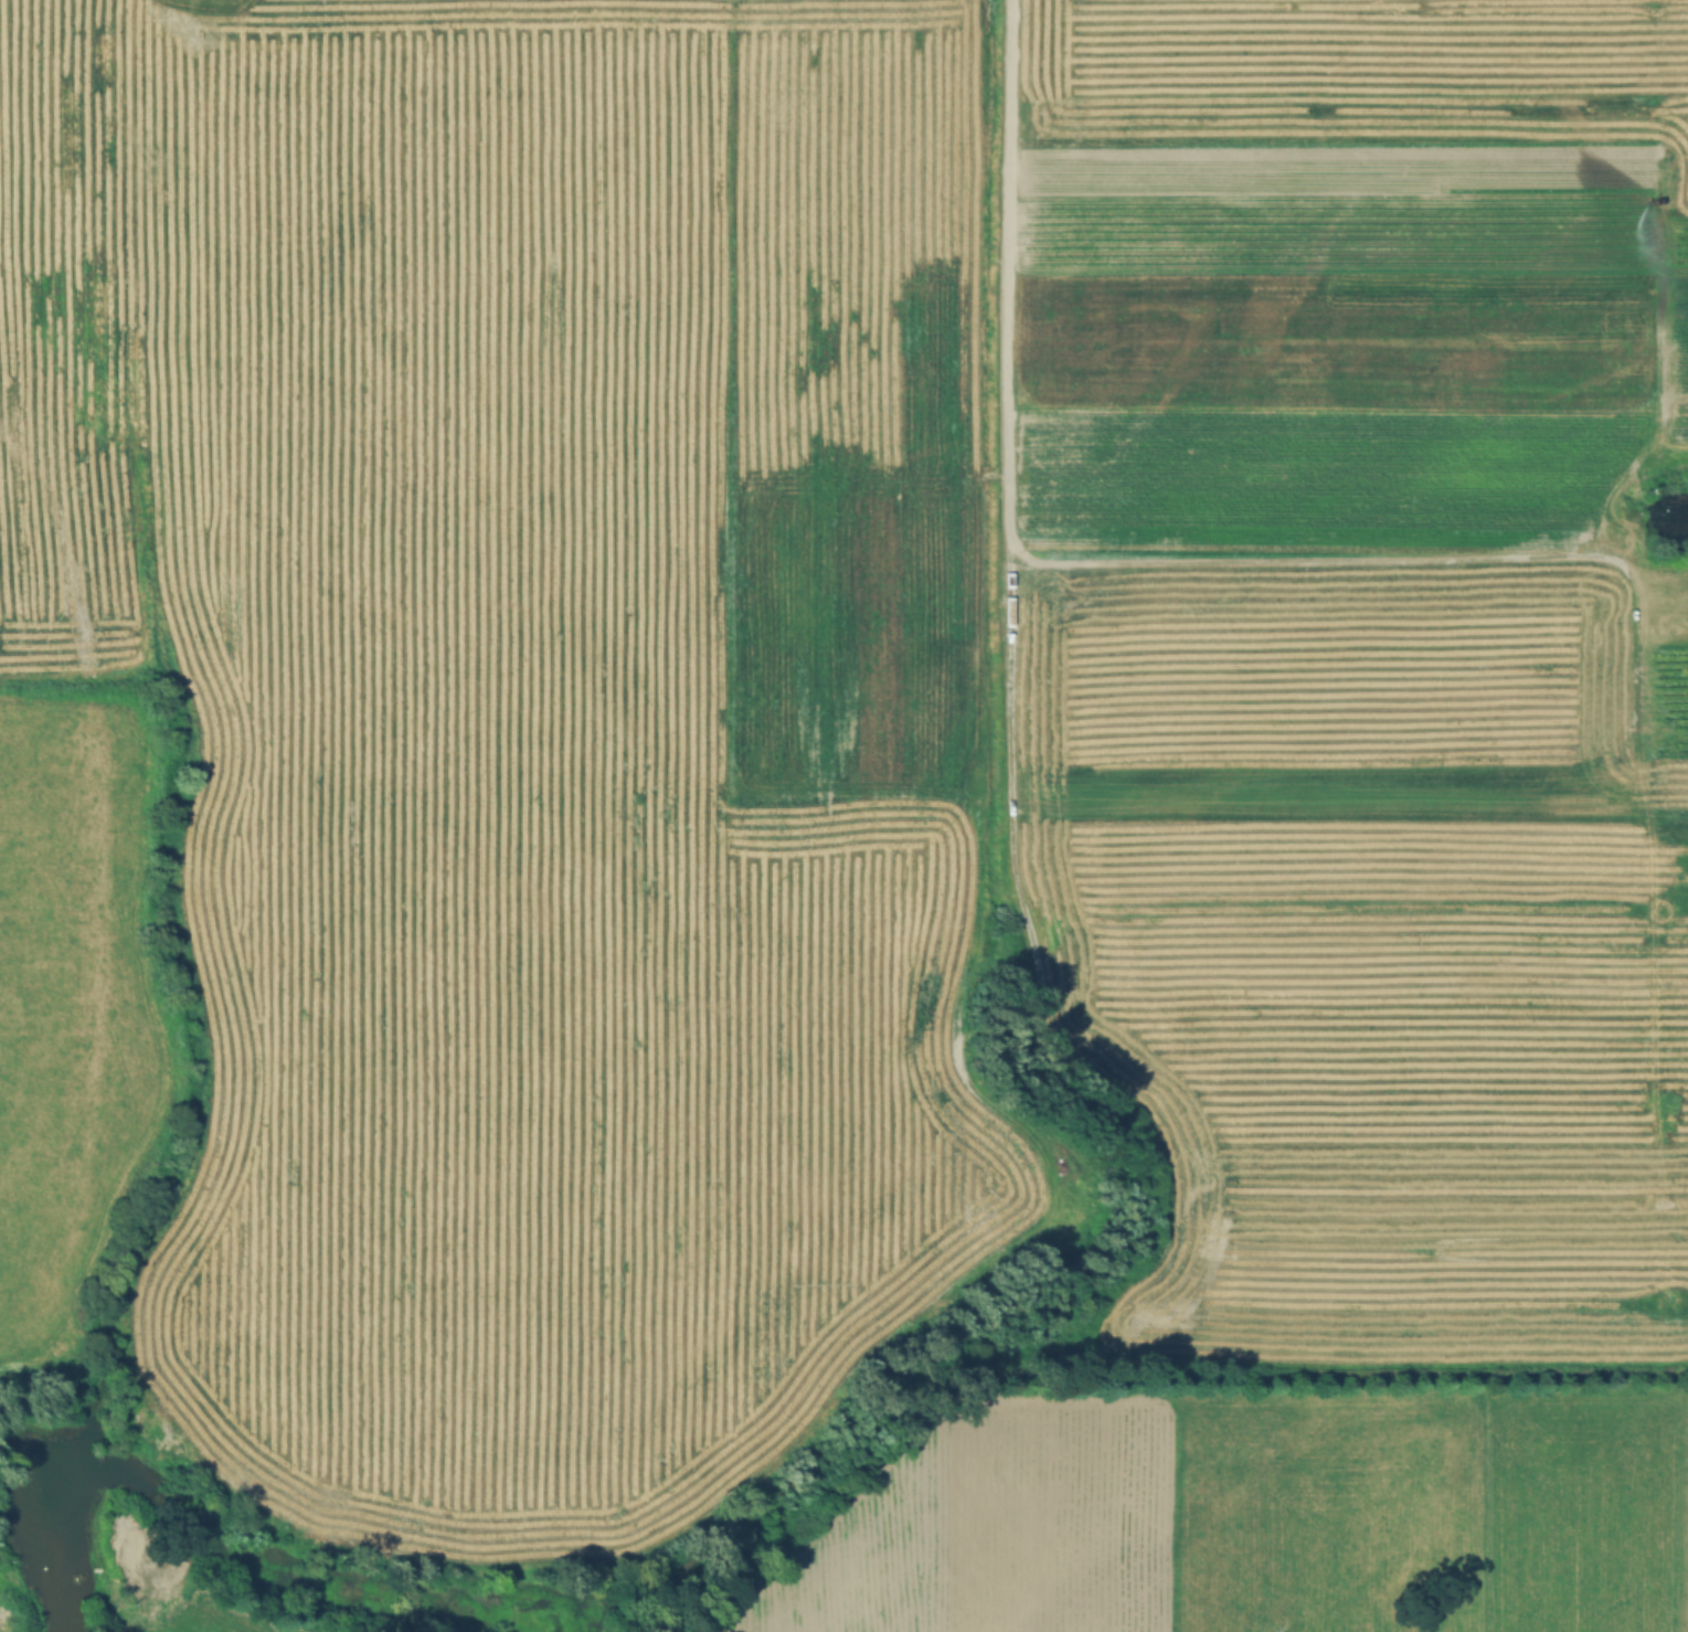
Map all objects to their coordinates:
crop: (867, 702)
crop: (84, 1029)

